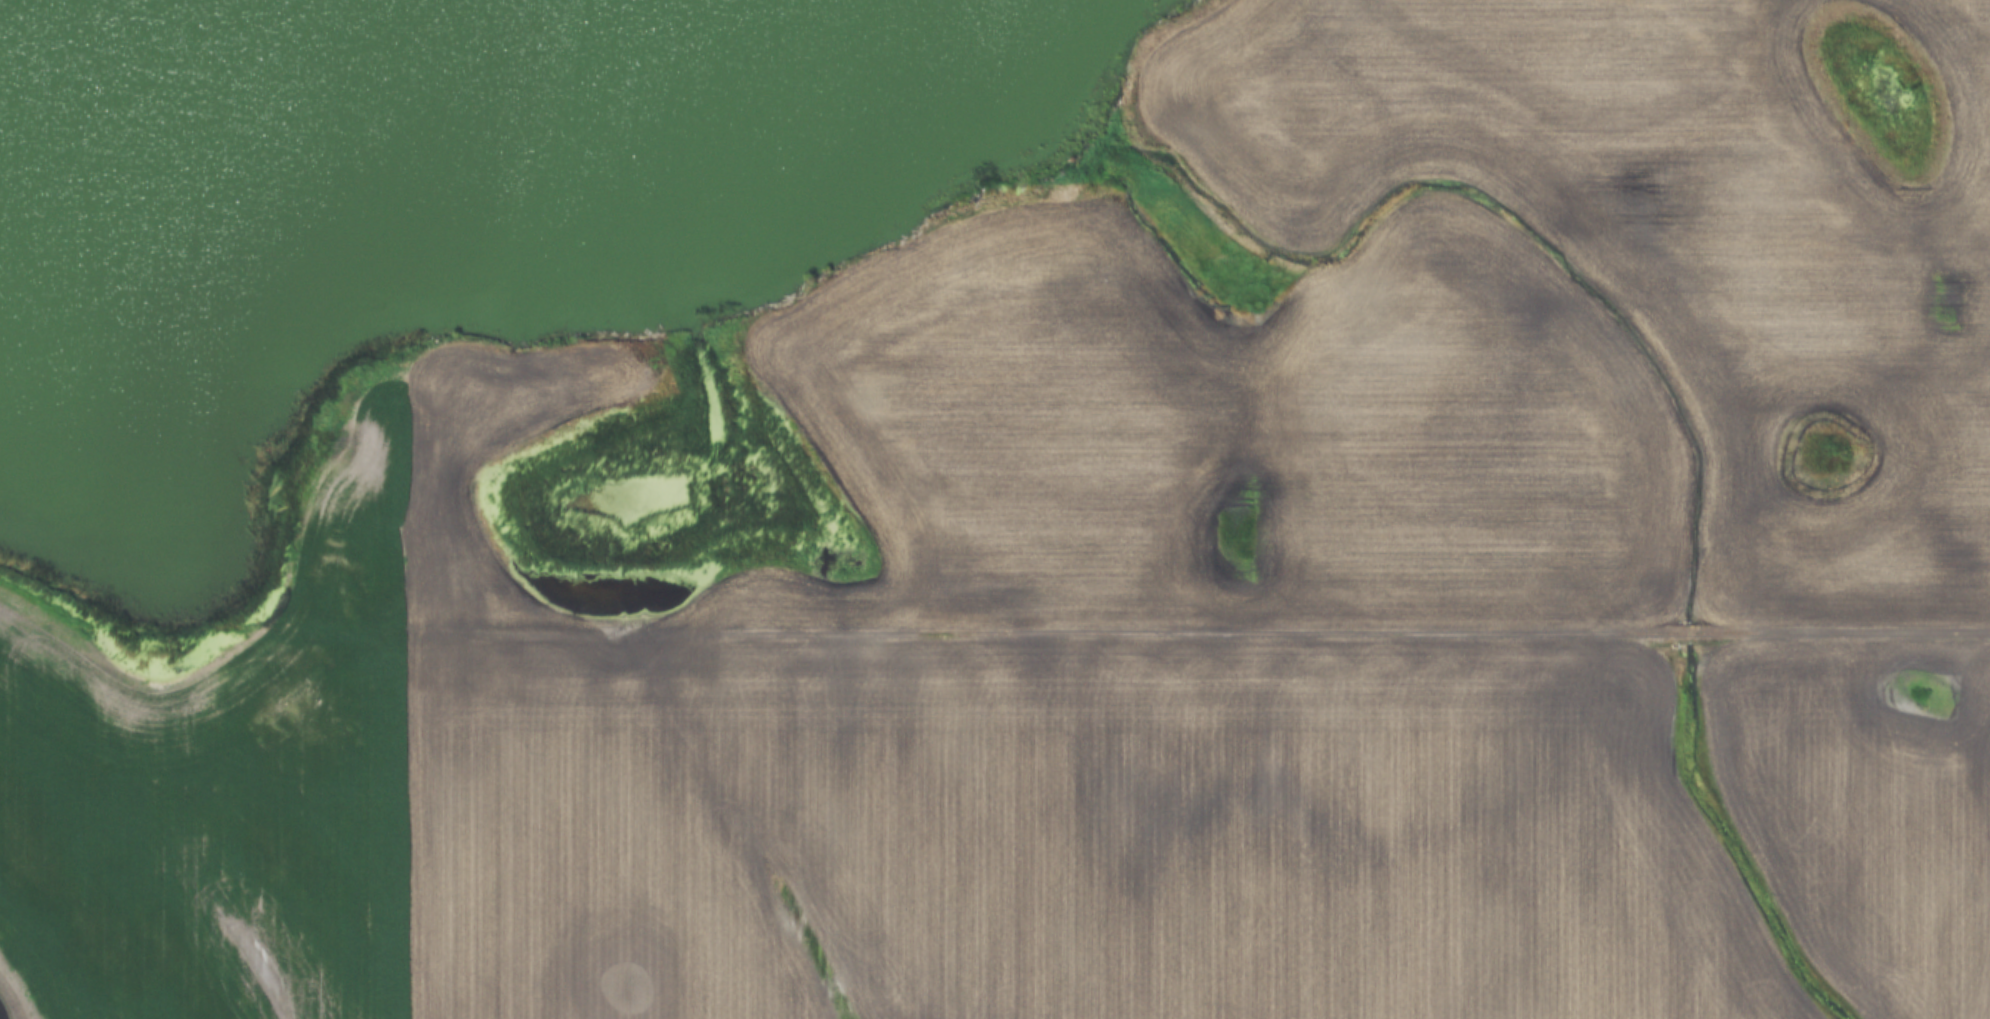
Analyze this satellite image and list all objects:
road: (1836, 634)

